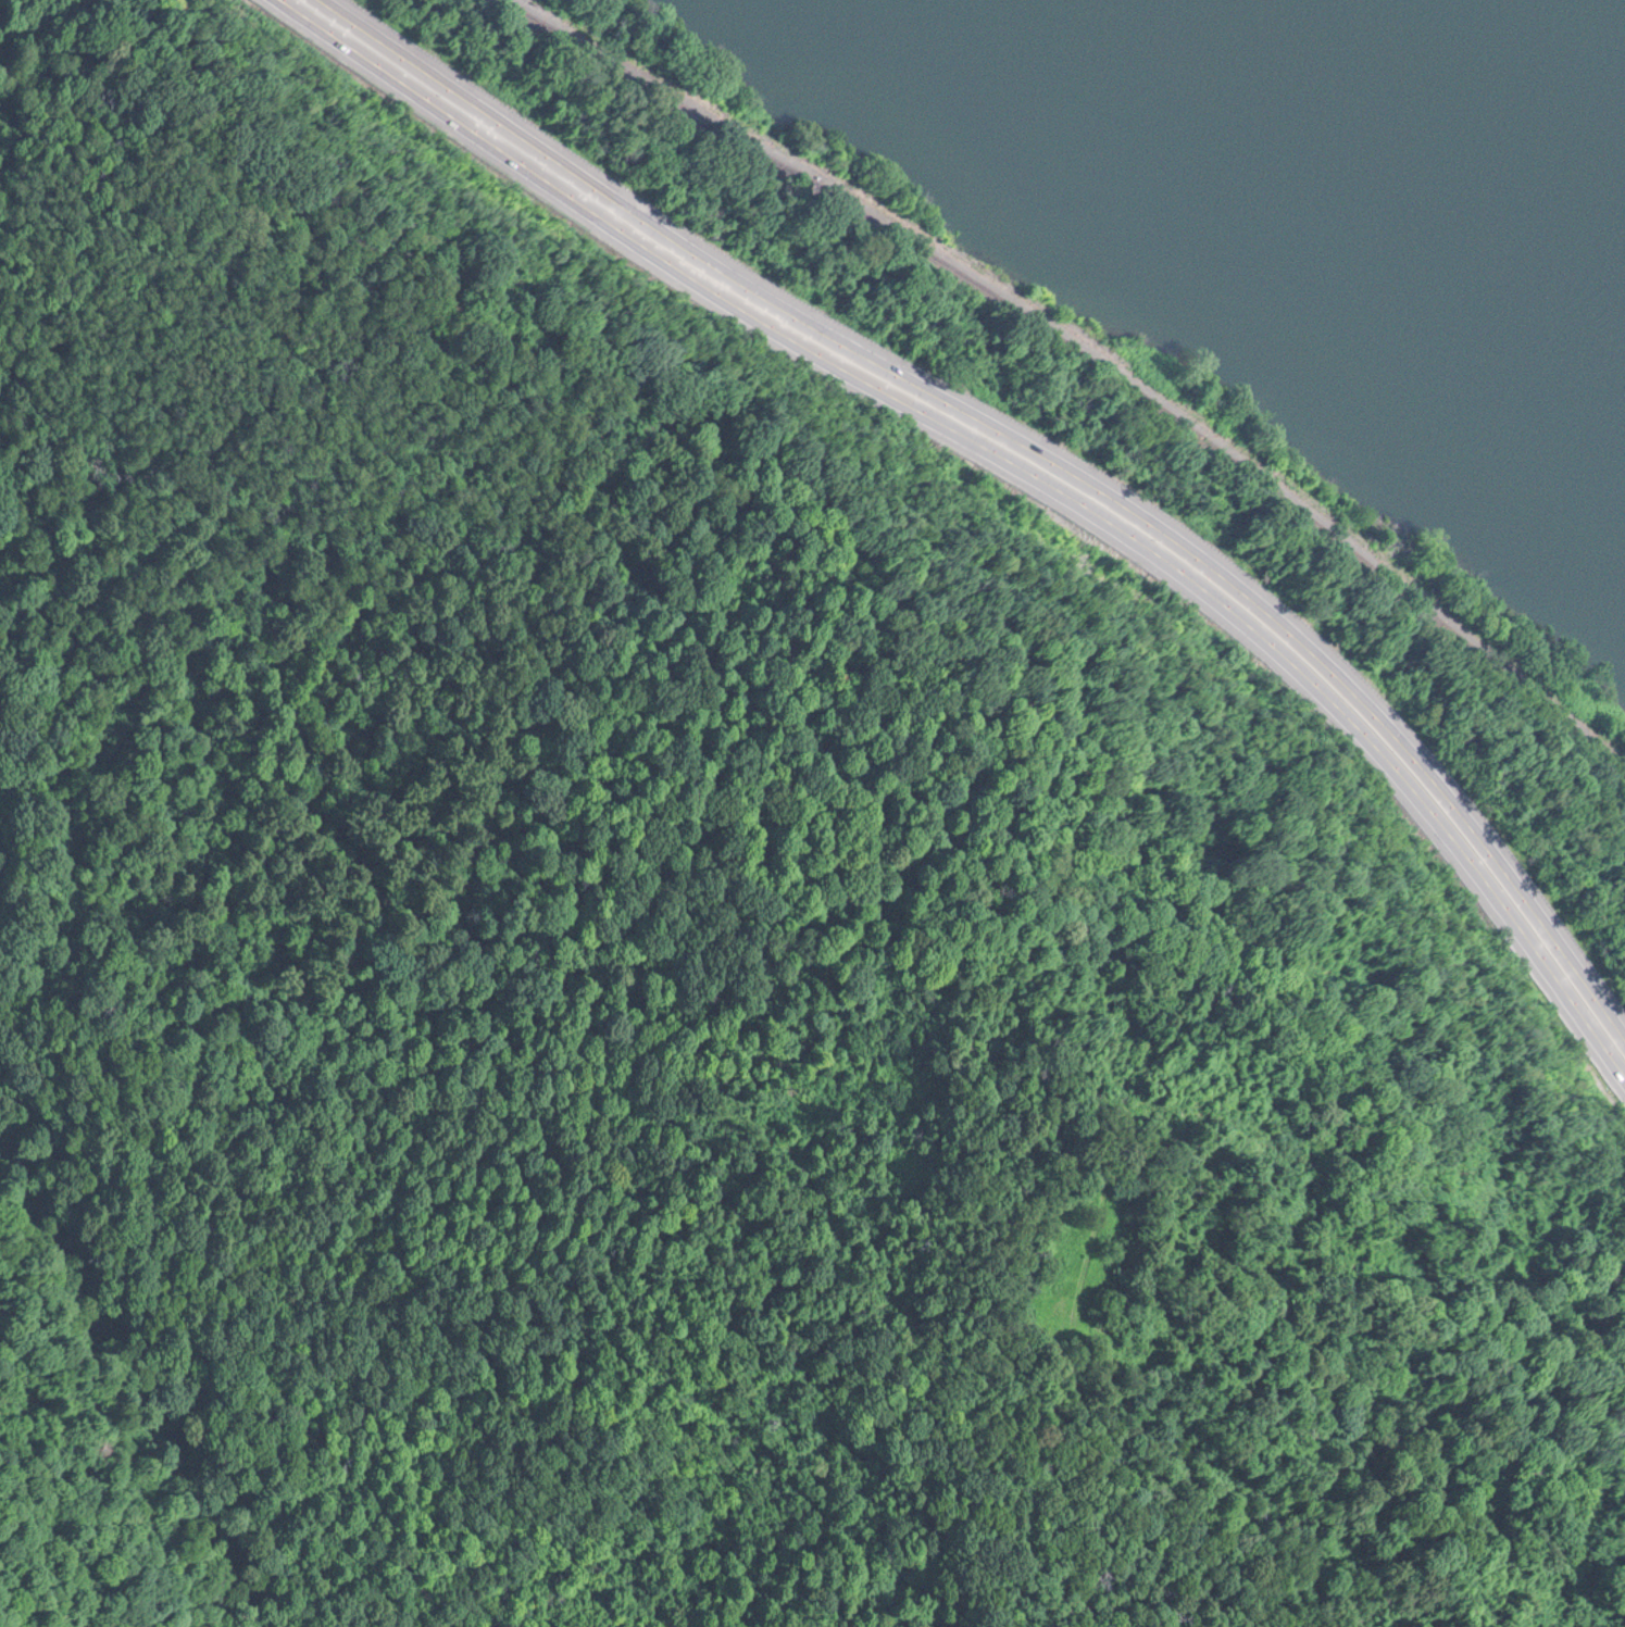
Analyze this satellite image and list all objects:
railway: (517, 1)
river: (1472, 121)
railway: (1093, 349)
road: (1039, 440)
road: (1017, 461)

